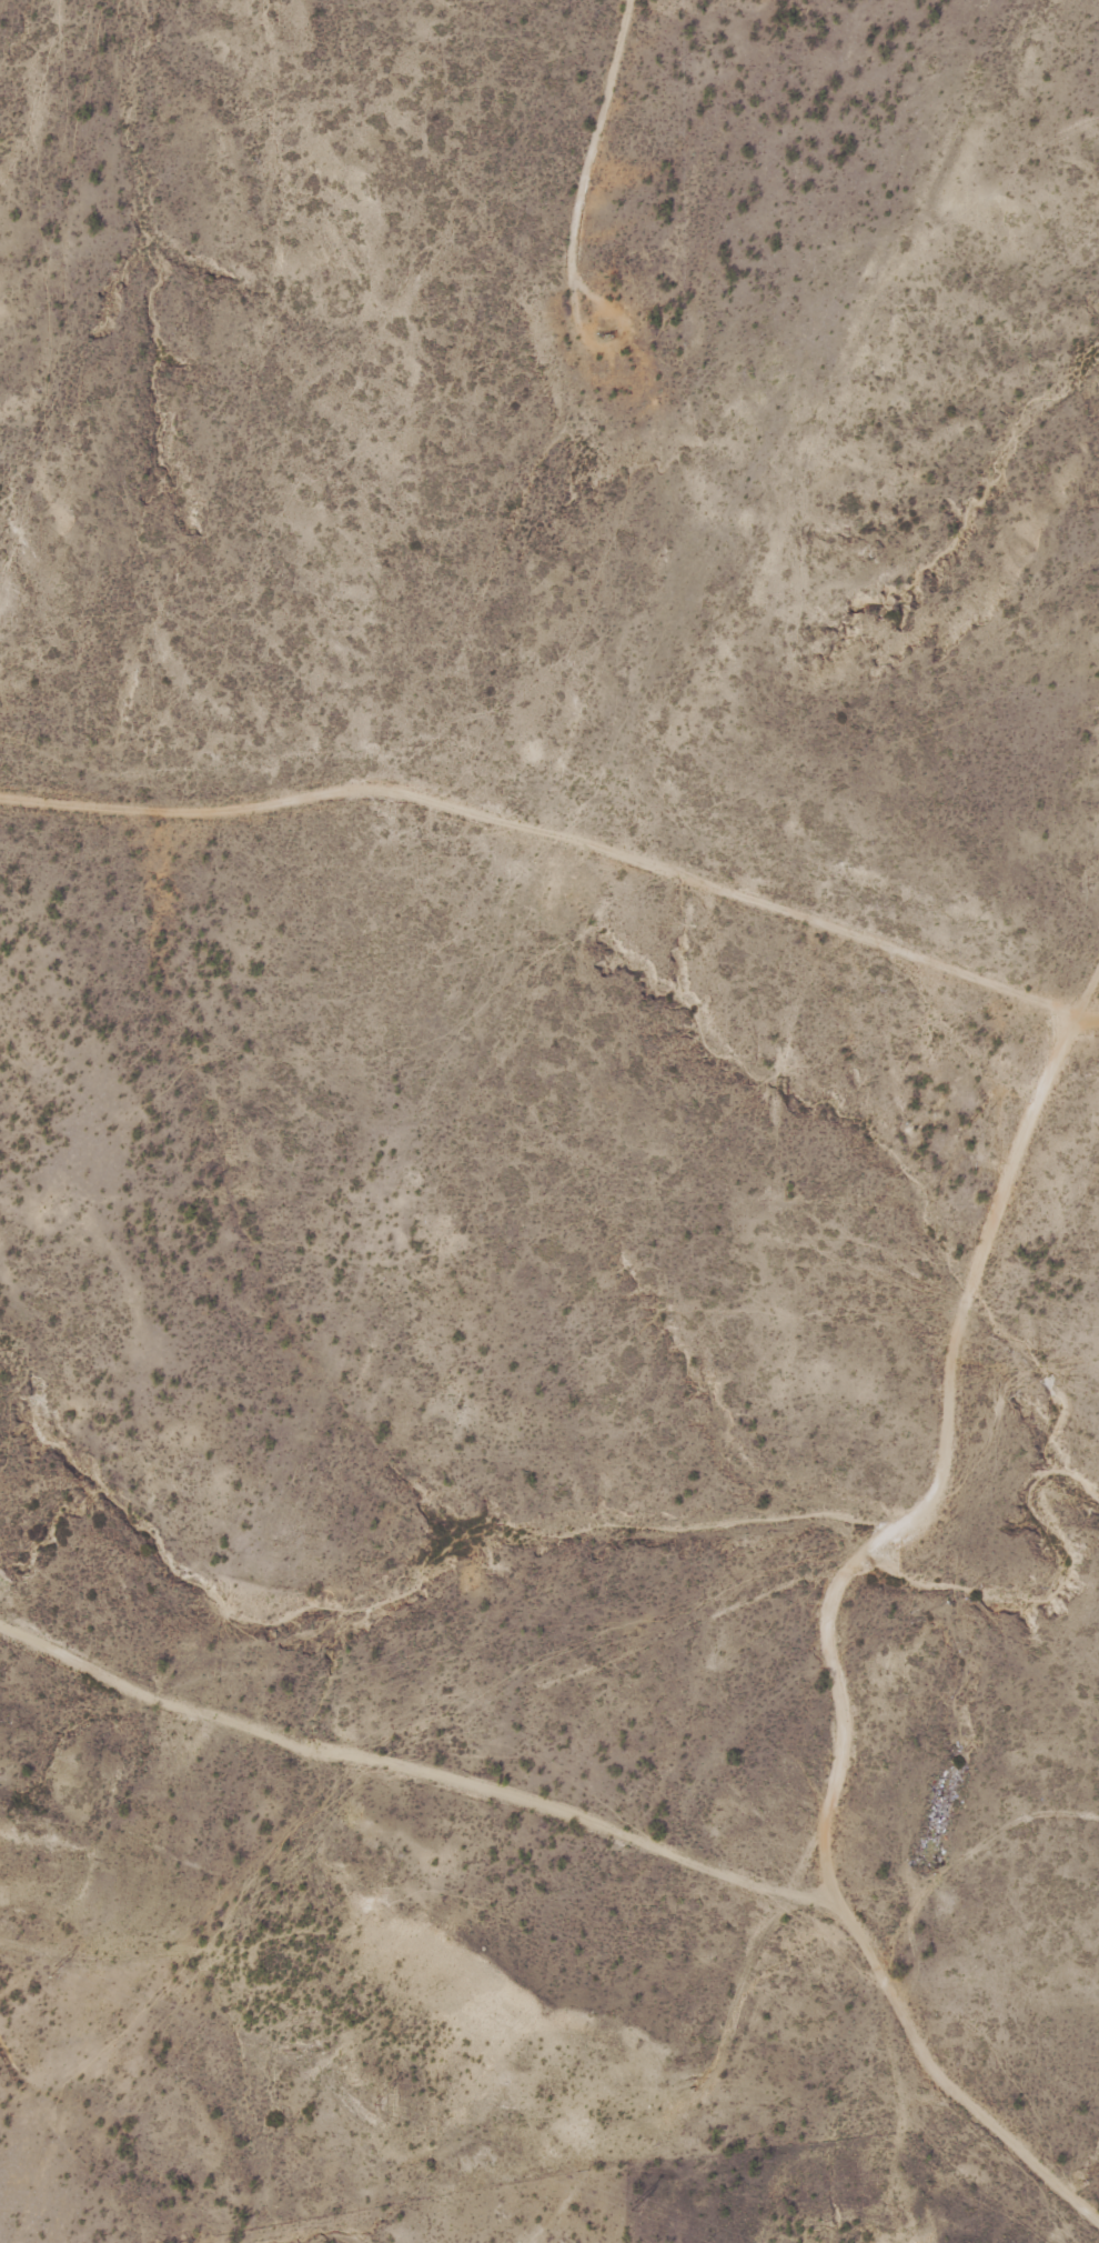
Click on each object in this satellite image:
power tower: (54, 1969)
power tower: (373, 2096)
power tower: (632, 2205)

